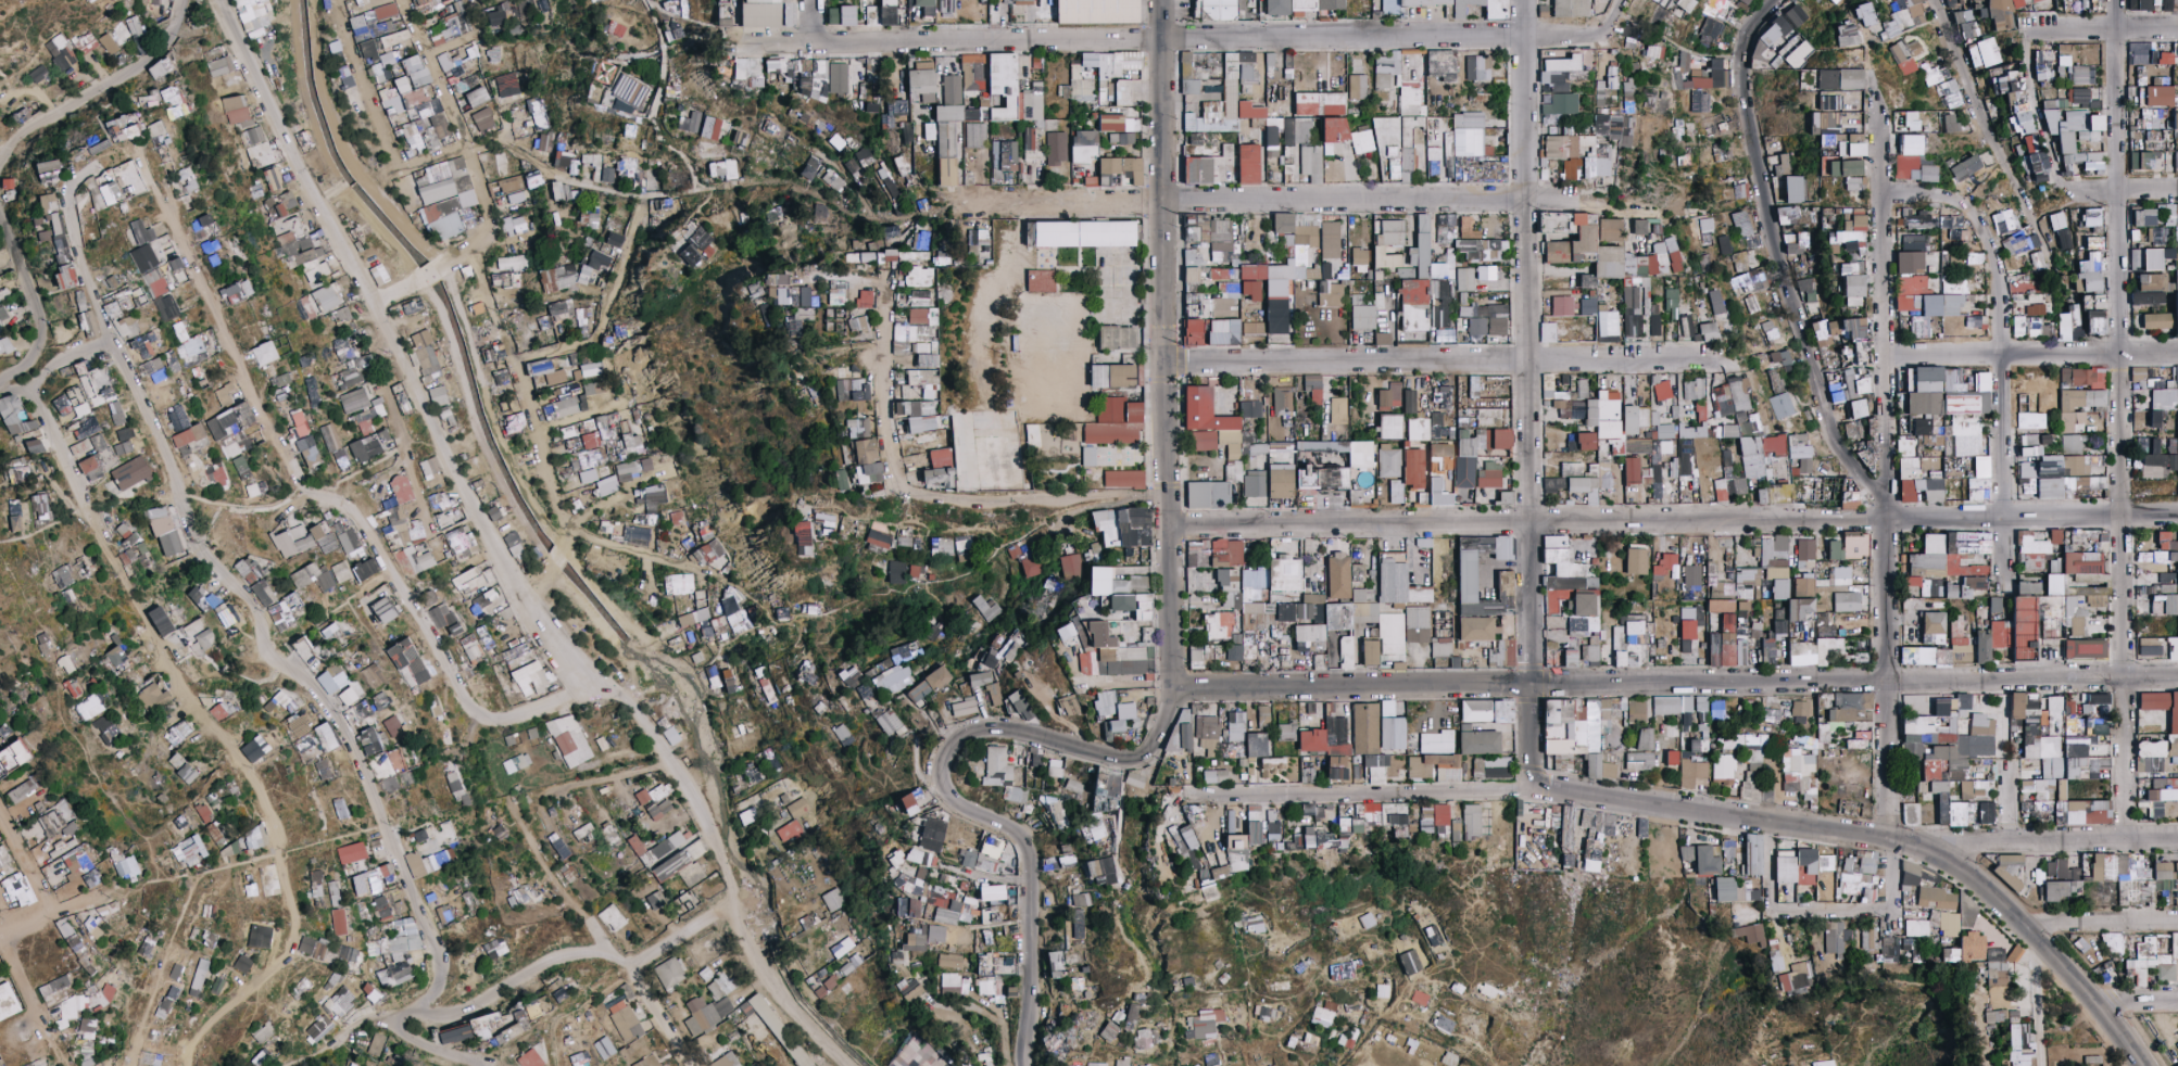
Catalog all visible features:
parking lot: (996, 282)
park: (1054, 347)
park: (2162, 1031)
park: (918, 1057)

